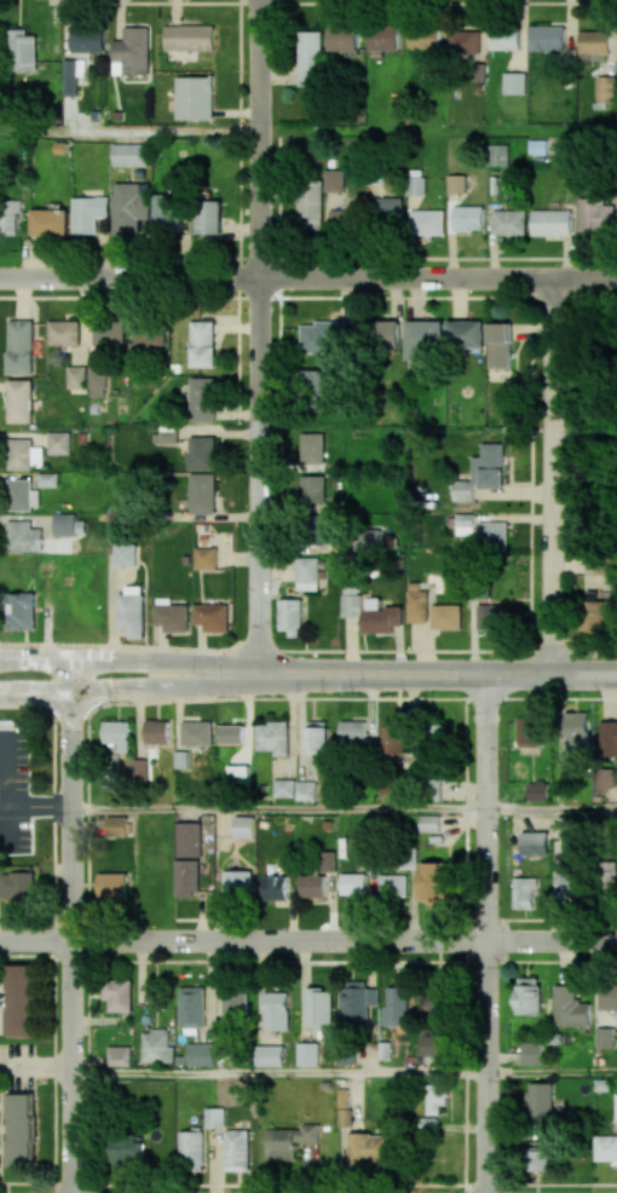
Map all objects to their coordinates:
building: (189, 38)
building: (344, 38)
building: (385, 38)
building: (504, 38)
building: (547, 38)
building: (423, 39)
building: (87, 40)
building: (463, 41)
building: (594, 41)
building: (23, 50)
building: (132, 52)
building: (308, 58)
building: (70, 77)
building: (514, 82)
building: (604, 91)
building: (195, 98)
road: (439, 131)
road: (131, 132)
building: (131, 154)
building: (498, 154)
building: (334, 180)
building: (415, 181)
building: (456, 183)
building: (310, 203)
building: (131, 206)
building: (167, 208)
building: (388, 209)
building: (88, 213)
building: (8, 215)
building: (596, 215)
building: (209, 217)
building: (342, 217)
building: (468, 218)
building: (50, 221)
building: (427, 221)
building: (509, 221)
building: (552, 221)
road: (308, 278)
building: (110, 332)
building: (64, 333)
building: (385, 333)
building: (466, 333)
building: (327, 336)
building: (149, 338)
building: (425, 340)
road: (260, 342)
building: (202, 344)
building: (500, 345)
building: (21, 347)
building: (76, 376)
building: (97, 381)
building: (317, 384)
building: (202, 398)
building: (19, 400)
building: (58, 443)
building: (313, 448)
building: (202, 451)
building: (23, 454)
building: (490, 466)
road: (552, 477)
building: (47, 479)
building: (313, 489)
building: (463, 490)
building: (202, 492)
building: (19, 495)
building: (465, 524)
building: (68, 525)
building: (492, 534)
building: (24, 536)
building: (125, 554)
building: (206, 557)
building: (307, 574)
building: (351, 601)
building: (417, 606)
building: (22, 610)
building: (132, 611)
building: (599, 612)
building: (212, 616)
building: (290, 616)
building: (381, 616)
building: (446, 616)
building: (492, 616)
building: (172, 617)
road: (307, 650)
road: (242, 663)
road: (549, 674)
road: (242, 685)
road: (307, 698)
building: (576, 730)
building: (157, 731)
building: (352, 731)
building: (197, 732)
building: (529, 732)
building: (117, 733)
building: (230, 734)
building: (317, 736)
building: (394, 736)
building: (273, 737)
building: (607, 738)
building: (139, 768)
building: (238, 773)
building: (604, 778)
building: (110, 780)
building: (283, 788)
building: (305, 790)
building: (538, 791)
road: (35, 809)
road: (277, 809)
road: (550, 811)
building: (429, 823)
building: (116, 825)
building: (243, 826)
building: (189, 838)
building: (535, 842)
building: (328, 860)
building: (607, 876)
building: (188, 877)
building: (434, 882)
building: (352, 883)
building: (16, 884)
building: (237, 884)
building: (312, 884)
building: (113, 886)
building: (393, 886)
building: (569, 886)
building: (275, 887)
building: (524, 892)
road: (70, 924)
road: (484, 933)
road: (308, 940)
building: (117, 995)
building: (529, 996)
building: (607, 996)
building: (22, 999)
building: (436, 999)
building: (235, 1004)
building: (358, 1004)
building: (396, 1005)
building: (192, 1007)
building: (318, 1007)
building: (570, 1007)
building: (276, 1010)
building: (605, 1037)
building: (156, 1047)
building: (431, 1049)
building: (532, 1053)
building: (201, 1054)
building: (307, 1054)
building: (119, 1055)
building: (269, 1055)
road: (35, 1065)
road: (278, 1072)
road: (550, 1072)
building: (434, 1099)
building: (541, 1102)
building: (616, 1107)
building: (344, 1111)
building: (214, 1117)
building: (21, 1128)
building: (289, 1140)
building: (605, 1147)
building: (127, 1148)
building: (368, 1148)
building: (191, 1149)
building: (237, 1149)
building: (536, 1159)

